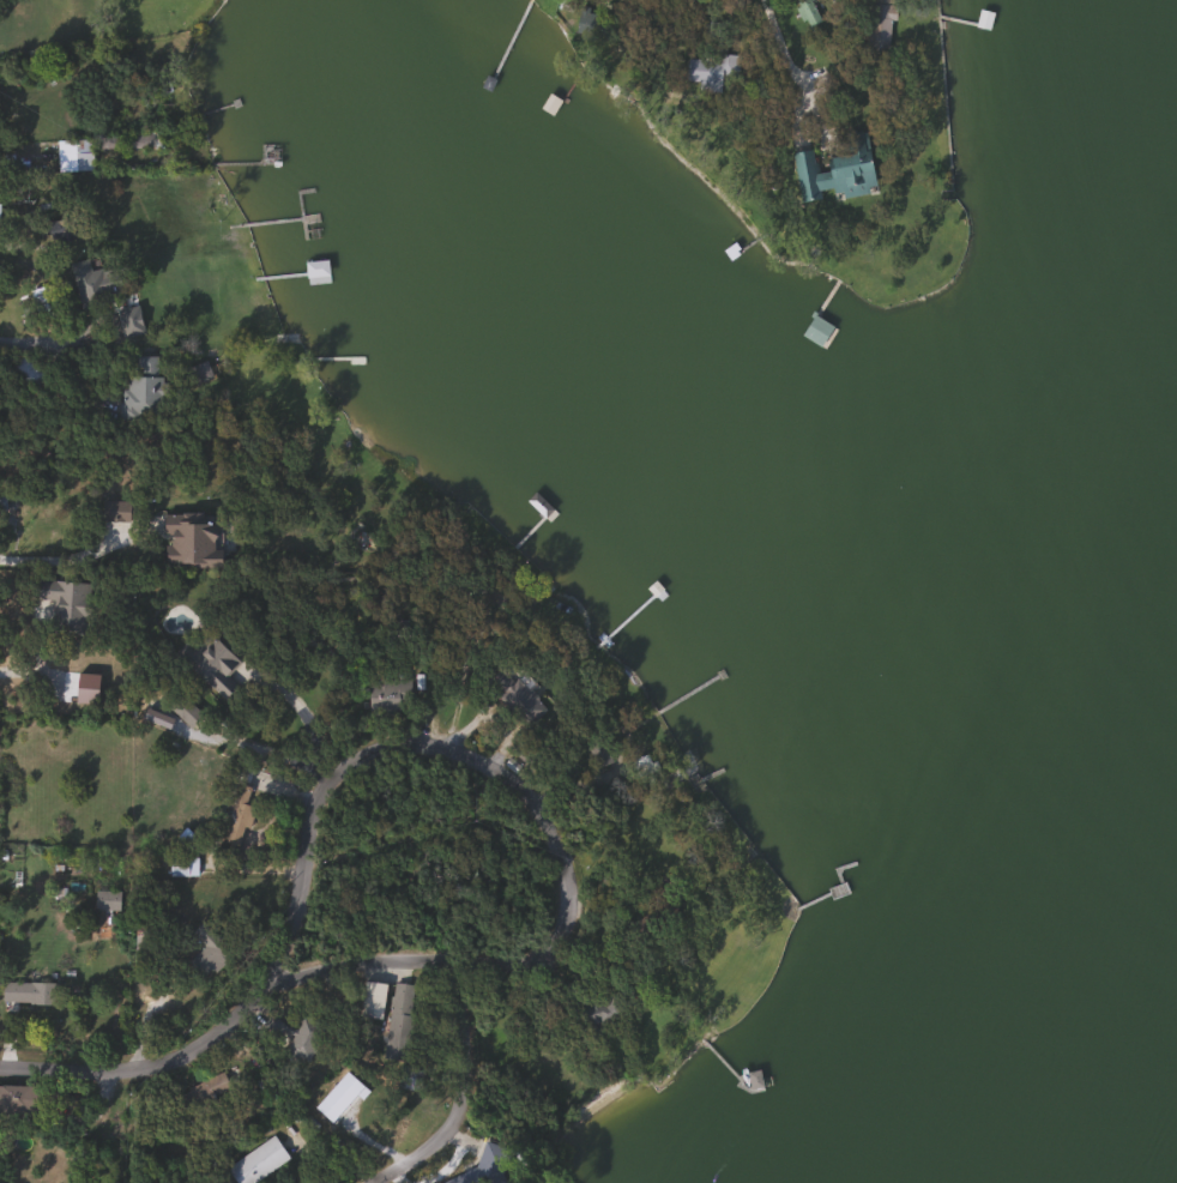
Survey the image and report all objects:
building: (805, 11)
building: (879, 23)
building: (593, 24)
road: (664, 31)
road: (775, 38)
building: (711, 61)
building: (139, 139)
building: (73, 155)
road: (18, 156)
building: (834, 171)
road: (31, 247)
building: (85, 294)
building: (43, 301)
building: (815, 331)
road: (26, 343)
building: (141, 387)
building: (114, 512)
building: (29, 525)
road: (80, 549)
building: (66, 604)
road: (37, 651)
building: (209, 663)
building: (520, 704)
building: (183, 716)
road: (303, 718)
building: (596, 750)
road: (542, 795)
building: (236, 815)
building: (182, 867)
building: (105, 900)
building: (206, 949)
building: (30, 994)
building: (370, 1000)
building: (398, 1022)
building: (292, 1037)
road: (151, 1062)
road: (477, 1096)
building: (20, 1099)
building: (255, 1161)
building: (463, 1178)

